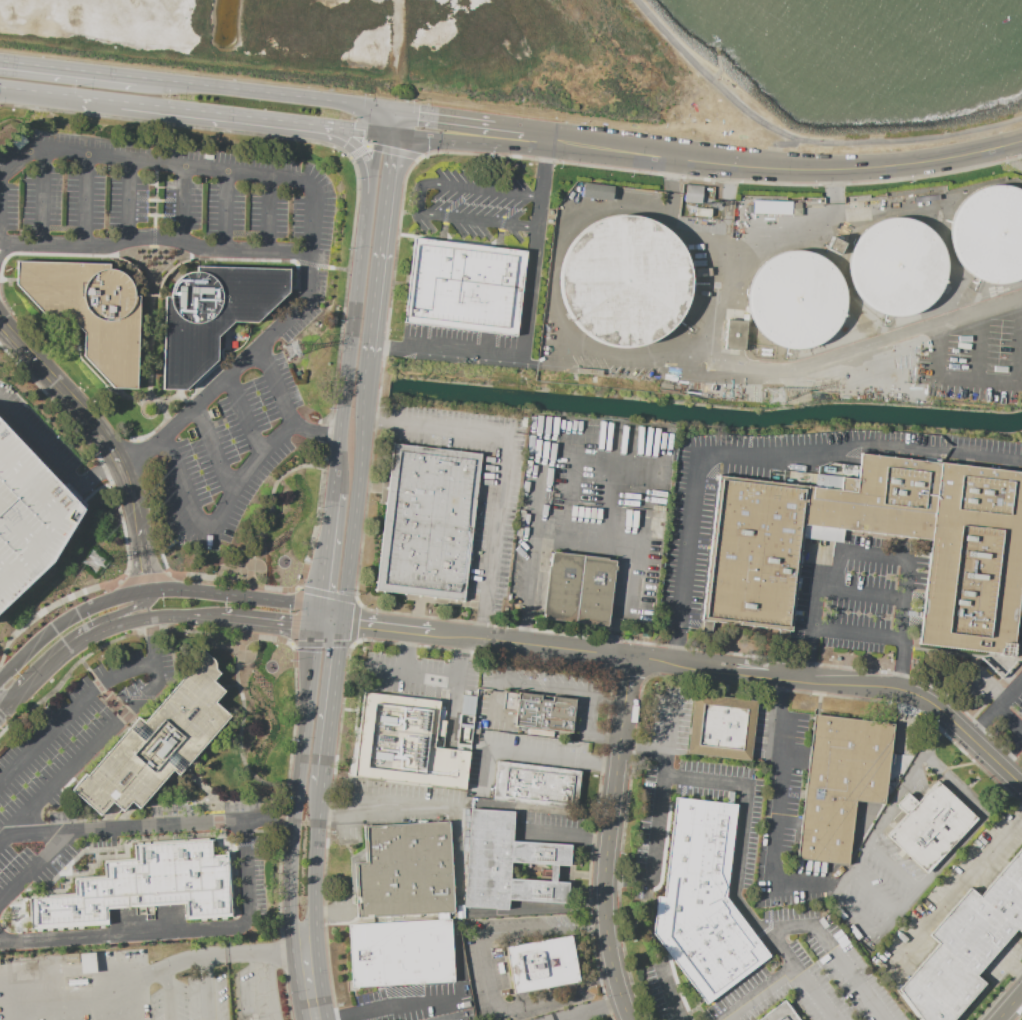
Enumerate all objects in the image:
road: (203, 85)
road: (60, 95)
road: (437, 114)
road: (224, 115)
road: (380, 120)
road: (405, 123)
road: (353, 131)
road: (390, 135)
road: (432, 140)
road: (784, 144)
road: (331, 146)
road: (382, 149)
road: (355, 150)
road: (374, 157)
road: (741, 165)
road: (720, 179)
road: (669, 185)
building: (596, 191)
building: (692, 193)
road: (41, 196)
road: (419, 198)
road: (84, 199)
road: (126, 200)
road: (181, 204)
road: (315, 204)
building: (768, 207)
road: (153, 210)
road: (226, 212)
road: (269, 215)
road: (694, 234)
building: (991, 235)
road: (155, 236)
road: (389, 246)
building: (896, 267)
road: (0, 270)
building: (626, 283)
building: (465, 287)
building: (796, 299)
road: (554, 302)
building: (93, 310)
building: (215, 314)
road: (528, 325)
building: (734, 334)
road: (353, 336)
road: (978, 347)
power tower: (295, 351)
road: (725, 370)
road: (982, 382)
power tower: (778, 396)
road: (244, 413)
road: (106, 439)
road: (859, 443)
road: (212, 446)
road: (503, 467)
road: (85, 484)
road: (230, 485)
road: (358, 489)
road: (569, 490)
road: (539, 492)
road: (611, 493)
building: (880, 500)
building: (29, 510)
parking garage: (29, 510)
road: (317, 512)
road: (121, 518)
park: (276, 519)
building: (429, 523)
road: (581, 545)
building: (754, 553)
road: (326, 554)
road: (864, 556)
road: (683, 558)
power tower: (100, 559)
fountain: (282, 562)
building: (975, 562)
road: (143, 577)
building: (578, 587)
road: (147, 591)
road: (860, 592)
road: (293, 616)
road: (125, 617)
road: (811, 617)
road: (199, 618)
road: (329, 620)
road: (134, 622)
road: (353, 622)
road: (479, 623)
road: (374, 625)
road: (904, 625)
road: (270, 627)
road: (856, 636)
road: (153, 639)
road: (105, 643)
road: (467, 651)
road: (1005, 657)
road: (731, 660)
road: (294, 664)
road: (54, 665)
fountain: (270, 666)
road: (384, 669)
road: (156, 671)
road: (627, 673)
road: (730, 674)
road: (430, 675)
road: (679, 676)
road: (157, 683)
road: (1000, 685)
road: (561, 689)
road: (330, 702)
road: (4, 705)
road: (14, 705)
road: (995, 706)
road: (71, 711)
building: (543, 712)
road: (4, 714)
park: (256, 717)
building: (723, 728)
building: (157, 737)
building: (412, 738)
road: (238, 741)
road: (640, 748)
road: (530, 755)
road: (1012, 755)
road: (78, 761)
road: (704, 781)
road: (297, 782)
building: (842, 782)
road: (955, 782)
building: (535, 786)
road: (781, 798)
road: (889, 806)
road: (657, 808)
road: (388, 814)
road: (271, 817)
road: (129, 825)
building: (932, 826)
road: (564, 833)
road: (607, 839)
building: (508, 860)
road: (315, 864)
road: (36, 866)
road: (892, 866)
building: (405, 867)
road: (928, 878)
building: (144, 883)
road: (958, 888)
road: (871, 894)
road: (278, 902)
building: (704, 903)
road: (749, 914)
road: (852, 919)
road: (175, 928)
road: (280, 948)
building: (967, 948)
building: (401, 950)
road: (835, 950)
building: (86, 962)
building: (544, 966)
road: (160, 969)
road: (488, 975)
road: (308, 982)
road: (208, 988)
road: (667, 988)
road: (166, 994)
road: (759, 994)
road: (999, 994)
road: (1011, 1007)
road: (588, 1008)
road: (376, 1009)
building: (783, 1014)
road: (1018, 1016)

